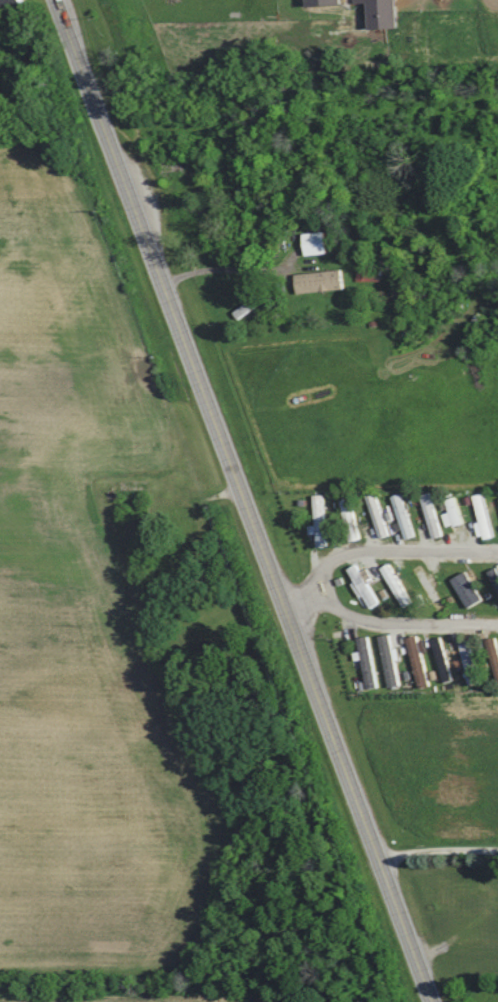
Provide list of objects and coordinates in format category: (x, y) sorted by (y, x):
building: (329, 2)
building: (15, 5)
building: (386, 13)
building: (319, 243)
building: (322, 281)
road: (246, 500)
building: (456, 515)
building: (405, 517)
building: (485, 519)
building: (322, 521)
building: (384, 527)
road: (398, 557)
building: (495, 576)
building: (427, 579)
building: (365, 588)
building: (470, 590)
road: (386, 623)
building: (494, 654)
building: (391, 660)
building: (419, 660)
building: (444, 660)
building: (368, 661)
building: (471, 662)
road: (438, 855)

